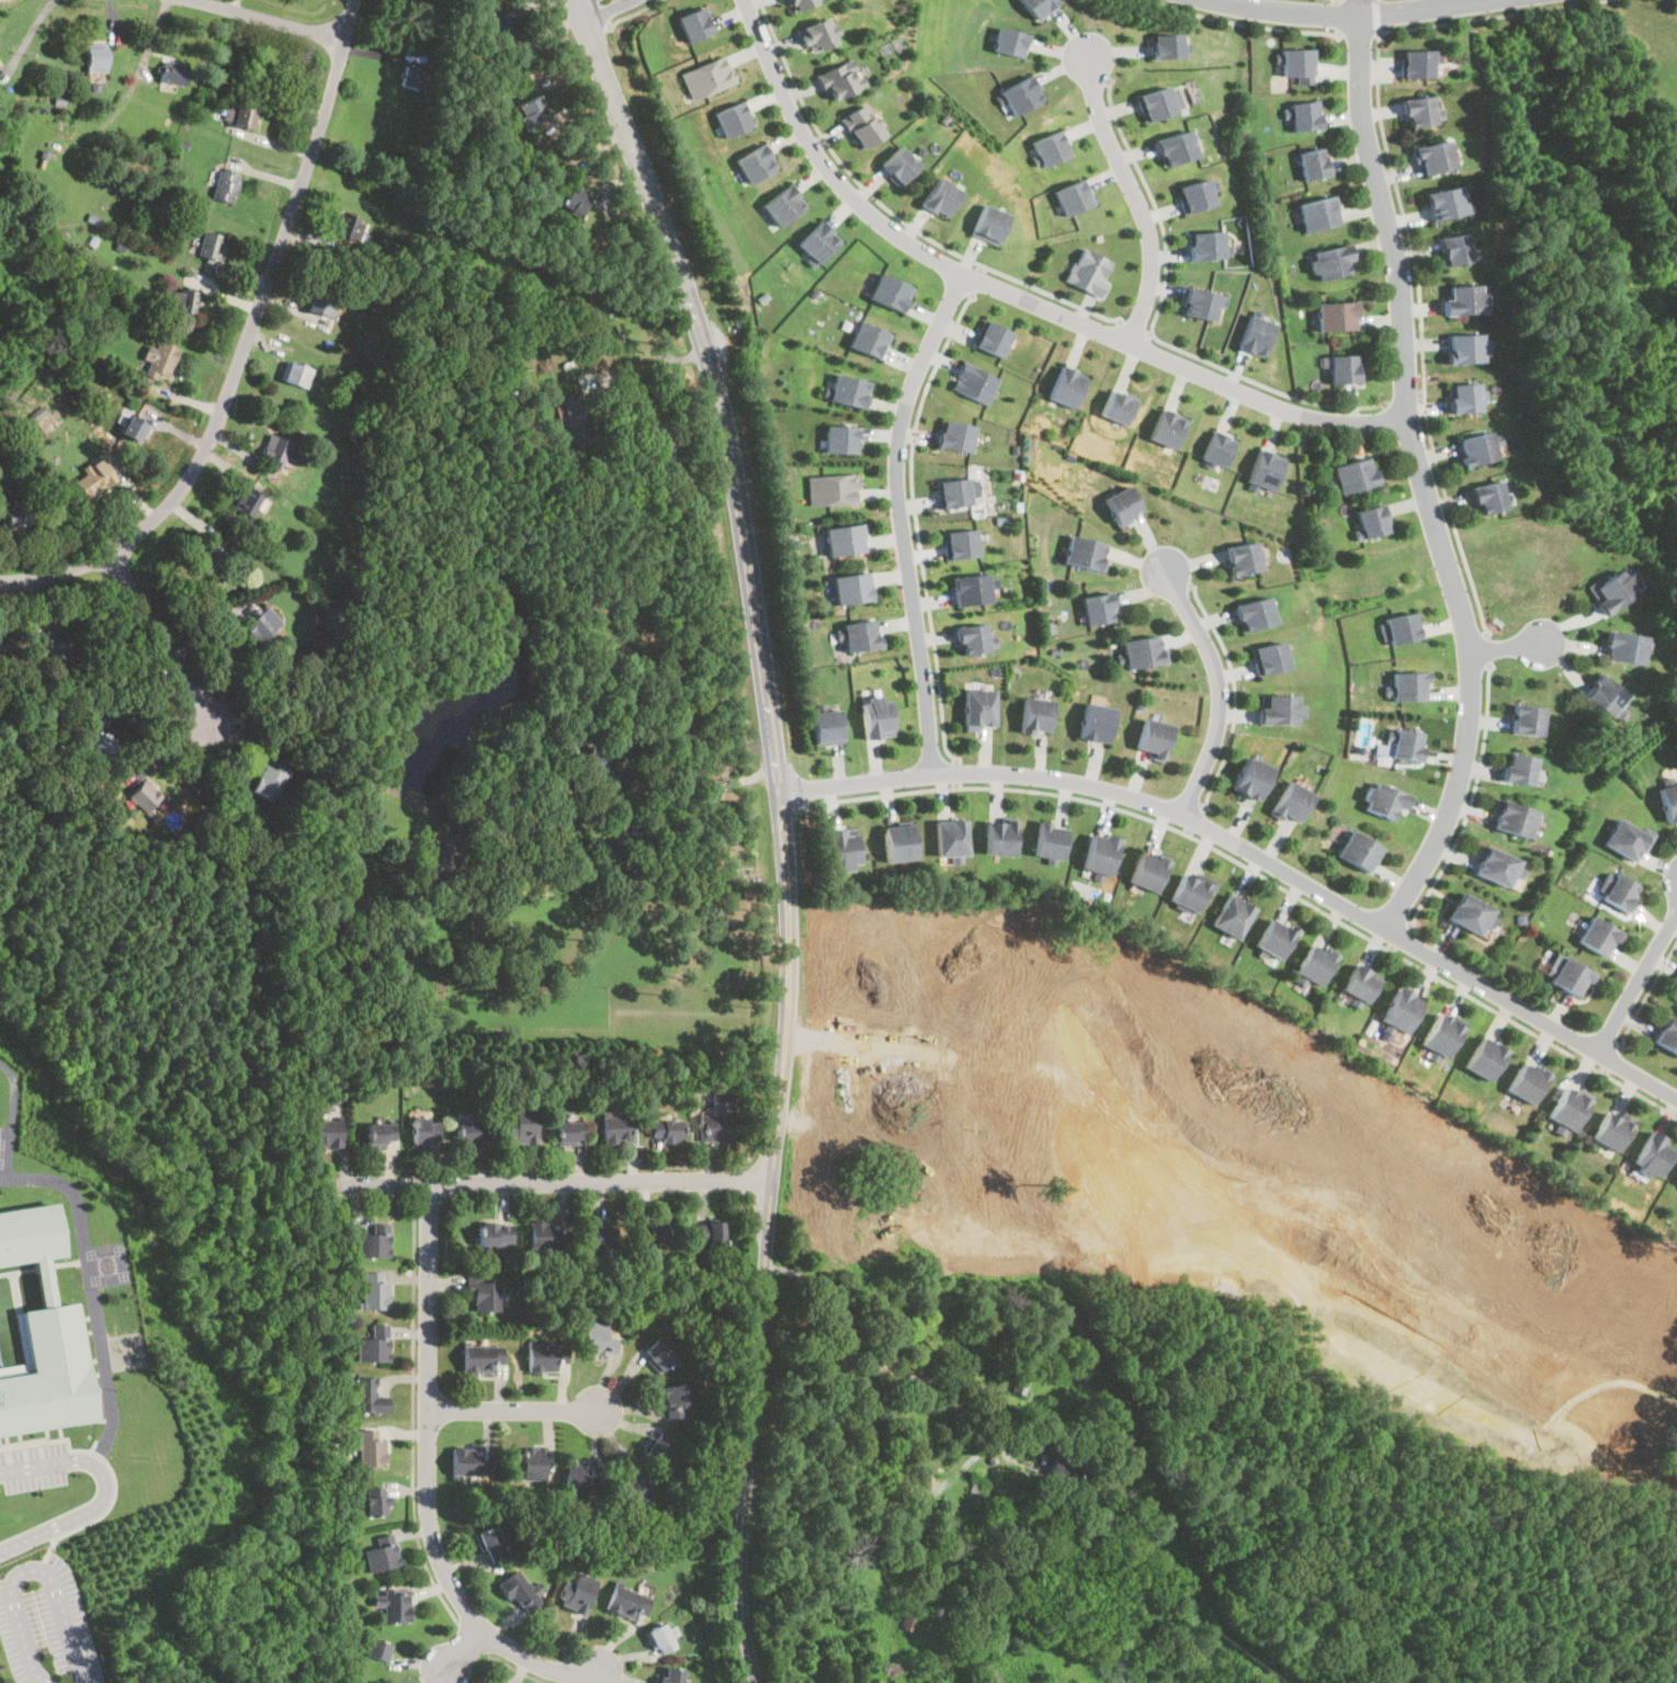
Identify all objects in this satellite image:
building: (797, 3)
road: (593, 5)
building: (1039, 5)
road: (1358, 7)
road: (601, 12)
road: (631, 13)
road: (1347, 14)
road: (1336, 15)
road: (1375, 15)
road: (272, 19)
building: (496, 22)
road: (1246, 22)
building: (693, 23)
road: (1358, 32)
road: (29, 33)
building: (818, 34)
building: (1011, 41)
building: (1164, 44)
building: (93, 58)
building: (1294, 61)
building: (1416, 61)
building: (170, 71)
building: (407, 77)
building: (706, 77)
building: (839, 79)
building: (1022, 92)
road: (327, 98)
building: (1154, 102)
building: (529, 110)
building: (1417, 111)
building: (238, 115)
building: (1301, 116)
building: (737, 120)
building: (861, 126)
road: (279, 143)
road: (631, 144)
building: (1172, 146)
building: (1047, 147)
building: (1432, 157)
road: (841, 159)
building: (755, 162)
building: (1311, 163)
building: (896, 164)
building: (224, 186)
building: (1191, 192)
building: (1068, 195)
building: (937, 197)
road: (1133, 197)
building: (570, 201)
building: (1443, 203)
building: (783, 205)
building: (1316, 213)
building: (984, 224)
road: (1406, 224)
building: (348, 226)
building: (816, 241)
building: (1201, 243)
building: (207, 245)
building: (1452, 249)
building: (1330, 261)
building: (1084, 271)
road: (973, 280)
building: (893, 291)
road: (1050, 295)
road: (1015, 296)
building: (1462, 299)
building: (181, 300)
building: (1200, 302)
building: (316, 303)
building: (1336, 316)
road: (1132, 328)
road: (1152, 328)
building: (1256, 333)
road: (1148, 334)
building: (987, 338)
building: (865, 340)
building: (1463, 349)
building: (158, 360)
road: (643, 367)
building: (1342, 368)
building: (294, 374)
building: (976, 382)
building: (1070, 387)
building: (846, 390)
road: (1421, 394)
building: (1461, 398)
road: (1404, 399)
building: (1114, 407)
building: (577, 423)
building: (1166, 425)
building: (132, 429)
building: (952, 436)
building: (845, 439)
road: (205, 442)
building: (662, 444)
building: (1220, 447)
building: (1474, 448)
building: (272, 451)
building: (1267, 467)
building: (1353, 475)
building: (91, 478)
road: (1423, 478)
building: (829, 489)
building: (951, 492)
building: (1486, 498)
building: (245, 501)
building: (1121, 504)
building: (12, 516)
road: (902, 518)
building: (1370, 521)
road: (917, 524)
building: (840, 539)
building: (958, 544)
building: (1084, 553)
building: (1240, 558)
building: (209, 561)
building: (848, 588)
building: (974, 589)
building: (1606, 592)
building: (1096, 609)
building: (1255, 612)
building: (257, 626)
building: (1400, 627)
building: (857, 635)
road: (159, 638)
building: (968, 638)
road: (1506, 646)
building: (57, 647)
road: (1483, 647)
building: (1621, 648)
building: (3, 651)
building: (1140, 651)
building: (1266, 658)
road: (1216, 685)
building: (1405, 685)
road: (1233, 693)
building: (1602, 695)
building: (976, 708)
building: (1276, 709)
building: (294, 710)
building: (1033, 715)
building: (873, 716)
building: (1530, 718)
building: (1094, 723)
building: (825, 727)
building: (1151, 738)
building: (1403, 744)
building: (102, 746)
building: (583, 759)
building: (1517, 769)
road: (956, 773)
building: (1247, 777)
road: (696, 780)
building: (268, 785)
building: (141, 796)
road: (1470, 799)
building: (1381, 800)
building: (1668, 800)
building: (1289, 803)
building: (1508, 818)
road: (1193, 820)
building: (996, 838)
building: (947, 839)
building: (1623, 840)
building: (1047, 841)
building: (896, 843)
building: (840, 850)
road: (1254, 851)
building: (1356, 851)
building: (445, 852)
building: (1098, 854)
building: (1492, 866)
building: (1145, 872)
road: (1261, 876)
building: (1087, 891)
building: (1614, 891)
building: (1186, 894)
building: (1468, 914)
building: (1230, 916)
road: (1400, 936)
building: (1596, 936)
building: (1273, 939)
building: (1314, 965)
building: (1570, 977)
road: (1636, 981)
road: (787, 982)
building: (1359, 985)
road: (1647, 994)
building: (1676, 994)
building: (1400, 1010)
building: (1667, 1035)
building: (1440, 1037)
building: (1484, 1058)
road: (1611, 1059)
building: (1527, 1081)
building: (1567, 1107)
building: (910, 1112)
road: (10, 1118)
building: (715, 1121)
building: (520, 1125)
building: (616, 1129)
building: (664, 1130)
building: (1610, 1130)
building: (422, 1132)
building: (468, 1132)
building: (566, 1133)
building: (325, 1134)
building: (377, 1134)
building: (1652, 1153)
road: (534, 1168)
road: (545, 1181)
road: (415, 1186)
building: (650, 1230)
building: (706, 1231)
building: (31, 1233)
building: (492, 1235)
building: (546, 1235)
building: (601, 1239)
building: (373, 1242)
road: (92, 1290)
building: (374, 1290)
building: (483, 1293)
building: (596, 1338)
building: (372, 1343)
building: (543, 1355)
building: (657, 1355)
building: (480, 1357)
building: (48, 1373)
building: (366, 1395)
building: (677, 1398)
road: (514, 1409)
road: (412, 1419)
building: (656, 1445)
building: (369, 1447)
building: (469, 1462)
building: (531, 1464)
building: (1058, 1472)
road: (428, 1476)
building: (575, 1479)
building: (976, 1486)
road: (102, 1489)
building: (630, 1489)
building: (375, 1500)
building: (491, 1540)
building: (381, 1554)
road: (29, 1569)
building: (518, 1590)
building: (576, 1592)
building: (625, 1602)
building: (394, 1604)
road: (474, 1638)
building: (659, 1638)
building: (376, 1649)
road: (460, 1650)
road: (515, 1669)
building: (675, 1674)

